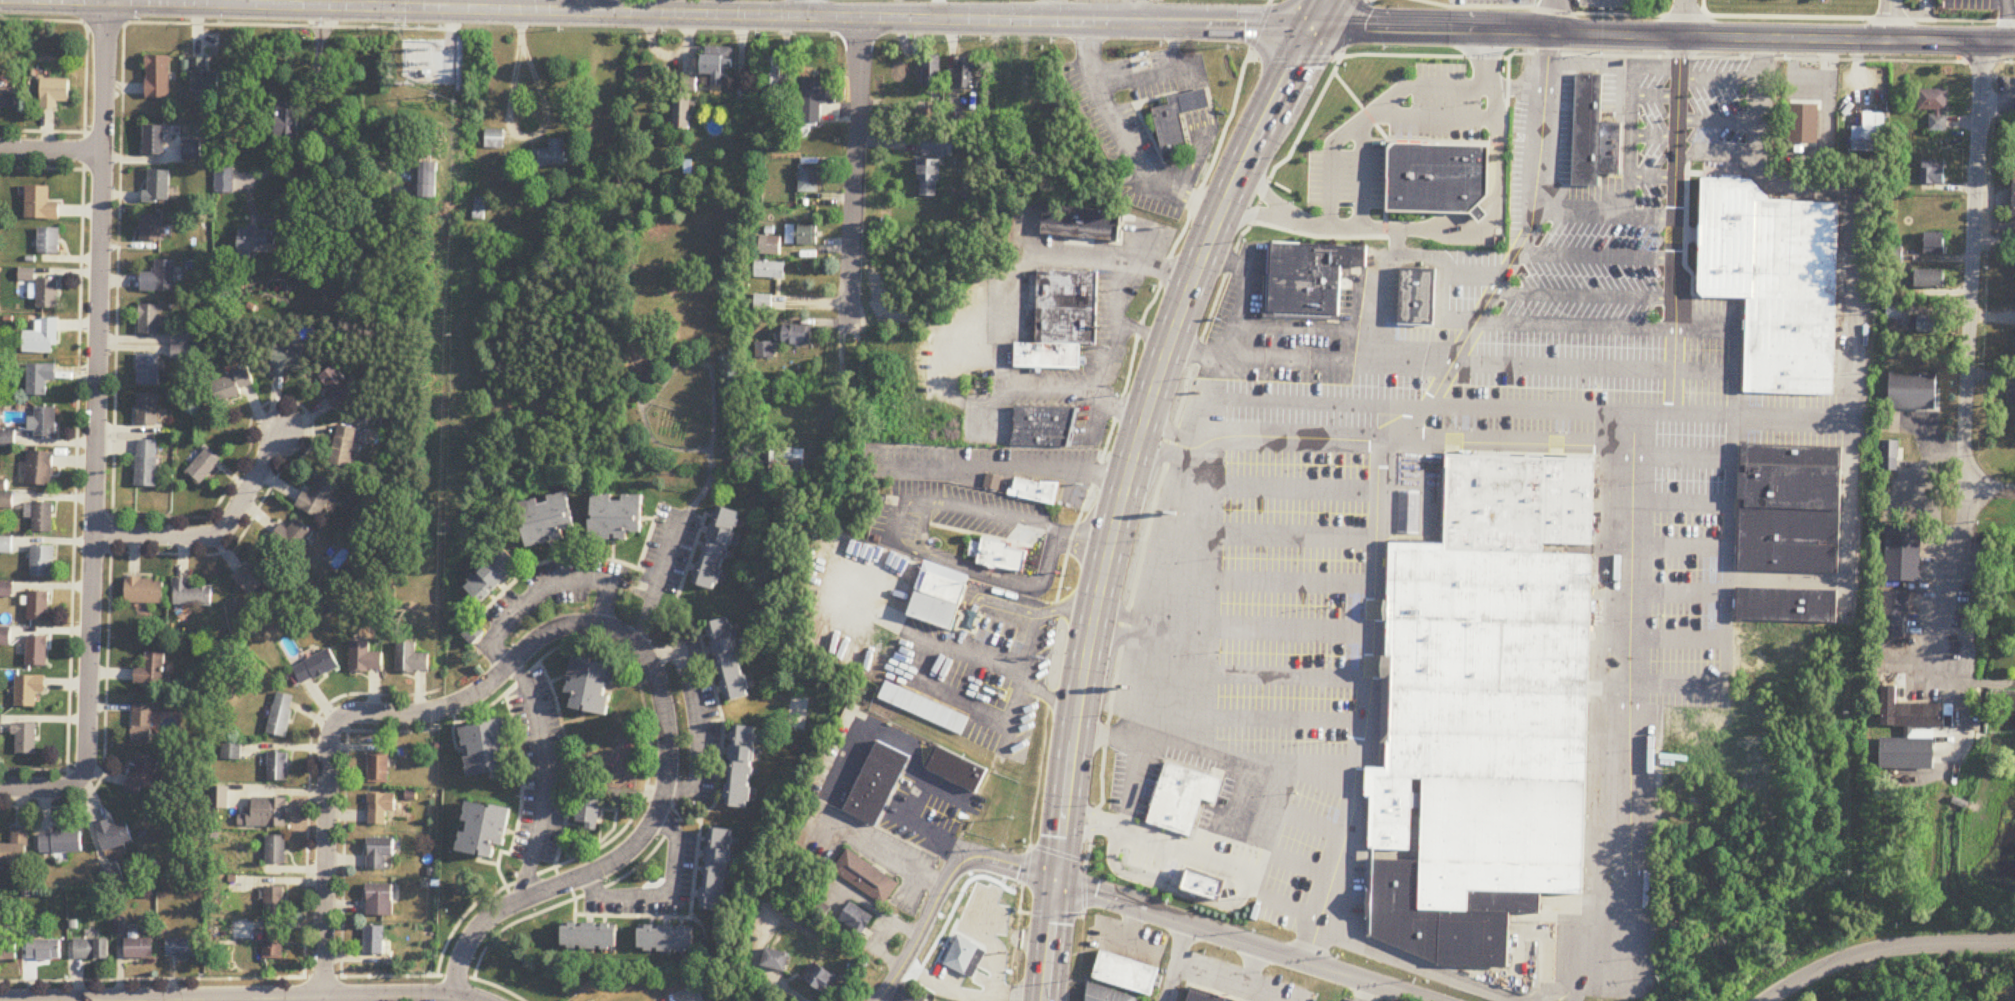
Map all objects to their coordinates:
road: (393, 4)
road: (805, 8)
road: (1718, 14)
road: (1550, 15)
road: (1682, 17)
road: (1007, 19)
road: (1888, 19)
road: (2006, 20)
traffic signals: (1310, 27)
road: (453, 30)
road: (1628, 54)
road: (1576, 62)
building: (717, 63)
road: (1612, 63)
power substation: (426, 64)
road: (1153, 71)
building: (775, 73)
road: (1486, 73)
building: (932, 75)
building: (965, 75)
road: (315, 76)
road: (1718, 76)
building: (158, 77)
building: (204, 77)
road: (1623, 88)
building: (55, 92)
road: (1654, 94)
road: (1390, 95)
building: (8, 98)
building: (818, 98)
building: (1191, 99)
building: (1932, 100)
road: (1360, 106)
building: (682, 108)
building: (927, 116)
road: (1434, 116)
road: (1717, 120)
building: (1938, 123)
building: (288, 124)
road: (542, 125)
building: (1586, 126)
building: (1168, 127)
road: (50, 132)
road: (1653, 134)
building: (1868, 134)
road: (1123, 137)
building: (494, 140)
building: (154, 141)
building: (1608, 145)
building: (937, 147)
road: (50, 150)
building: (192, 150)
road: (1385, 152)
building: (551, 155)
road: (1716, 156)
road: (1728, 165)
road: (50, 170)
road: (1694, 172)
road: (1359, 173)
road: (1717, 173)
building: (1932, 173)
building: (1731, 175)
road: (1731, 175)
building: (1436, 176)
road: (1652, 176)
building: (928, 178)
building: (225, 179)
building: (808, 179)
building: (426, 180)
road: (1572, 181)
road: (850, 183)
road: (1628, 183)
building: (158, 187)
road: (1487, 198)
road: (1272, 200)
building: (40, 204)
road: (1490, 208)
building: (480, 209)
road: (1476, 210)
building: (1478, 212)
road: (1266, 214)
road: (1650, 215)
road: (1482, 216)
building: (1079, 220)
road: (1492, 220)
road: (1673, 223)
road: (1461, 224)
road: (1335, 225)
road: (1376, 226)
road: (1030, 227)
building: (151, 228)
road: (1471, 228)
road: (1684, 231)
road: (1690, 233)
building: (1697, 233)
road: (1697, 234)
building: (801, 235)
building: (49, 241)
building: (254, 241)
road: (1394, 241)
building: (1764, 242)
road: (1994, 242)
building: (1934, 243)
building: (774, 246)
building: (1317, 252)
road: (1408, 255)
road: (1594, 255)
building: (1303, 268)
building: (770, 271)
road: (1472, 273)
road: (1695, 276)
building: (159, 277)
road: (1007, 278)
building: (1066, 278)
building: (1931, 279)
road: (1970, 280)
building: (1303, 284)
road: (1854, 284)
road: (1241, 289)
building: (47, 293)
building: (1415, 294)
road: (116, 295)
road: (1583, 295)
building: (1066, 296)
road: (1150, 301)
building: (1302, 302)
building: (763, 303)
building: (1066, 314)
building: (149, 320)
road: (1414, 323)
road: (1575, 323)
road: (1406, 324)
building: (1929, 325)
road: (1306, 327)
road: (1140, 329)
building: (1064, 332)
building: (797, 336)
building: (42, 339)
road: (1394, 342)
building: (1791, 344)
building: (1744, 345)
road: (1744, 345)
building: (764, 351)
building: (184, 352)
building: (1046, 353)
road: (1109, 354)
road: (1308, 356)
building: (287, 361)
road: (78, 363)
road: (1592, 366)
building: (148, 370)
road: (670, 378)
building: (39, 379)
building: (232, 385)
building: (336, 386)
road: (96, 392)
building: (1914, 392)
building: (2012, 394)
road: (1743, 404)
road: (1122, 407)
building: (147, 410)
road: (1637, 410)
road: (1176, 412)
building: (1042, 416)
road: (310, 420)
building: (44, 424)
road: (1140, 424)
road: (1166, 431)
road: (1297, 431)
building: (1039, 435)
building: (345, 448)
road: (1161, 449)
road: (1201, 452)
road: (1689, 456)
building: (1890, 456)
building: (787, 459)
building: (146, 464)
building: (202, 466)
road: (995, 466)
road: (1216, 468)
building: (39, 469)
road: (1376, 471)
building: (992, 480)
road: (1296, 486)
road: (706, 488)
building: (1034, 489)
road: (2011, 493)
building: (319, 497)
road: (1687, 502)
building: (1789, 507)
road: (1728, 516)
building: (617, 517)
building: (43, 518)
building: (549, 520)
road: (212, 531)
road: (1294, 532)
road: (1081, 534)
building: (293, 537)
road: (649, 537)
road: (895, 542)
road: (931, 545)
road: (1686, 546)
building: (717, 549)
building: (996, 552)
building: (1903, 553)
road: (562, 559)
building: (42, 562)
building: (493, 576)
building: (254, 577)
road: (1786, 579)
road: (658, 580)
road: (1293, 580)
road: (543, 589)
building: (144, 591)
road: (1685, 591)
building: (191, 594)
building: (937, 594)
building: (1786, 603)
road: (1008, 605)
building: (38, 606)
road: (1949, 612)
building: (1895, 613)
road: (1119, 614)
road: (1292, 628)
building: (471, 631)
building: (992, 631)
road: (1115, 632)
road: (1176, 635)
building: (5, 636)
road: (1684, 637)
road: (1028, 642)
road: (949, 647)
building: (37, 651)
building: (365, 658)
building: (411, 659)
building: (728, 659)
building: (316, 667)
building: (152, 671)
road: (1291, 674)
parking lot: (704, 684)
road: (1982, 684)
building: (592, 686)
building: (29, 691)
road: (1047, 695)
road: (960, 700)
building: (923, 706)
building: (1484, 711)
road: (428, 712)
building: (1913, 713)
building: (281, 716)
road: (454, 716)
road: (699, 717)
road: (1289, 718)
building: (143, 724)
building: (2, 725)
road: (386, 732)
road: (1109, 736)
building: (26, 740)
building: (486, 749)
building: (1907, 754)
road: (917, 757)
road: (1302, 762)
road: (1250, 765)
building: (277, 767)
building: (956, 767)
building: (742, 768)
building: (378, 769)
parking lot: (538, 770)
road: (42, 771)
road: (647, 773)
building: (144, 777)
road: (543, 779)
road: (309, 780)
building: (876, 781)
road: (39, 788)
building: (1180, 796)
road: (662, 797)
building: (218, 799)
building: (590, 807)
road: (713, 807)
building: (383, 808)
road: (1093, 812)
building: (268, 813)
road: (1309, 820)
road: (1272, 825)
road: (1090, 828)
building: (484, 831)
building: (115, 836)
building: (61, 843)
road: (1637, 845)
road: (344, 846)
building: (15, 850)
building: (275, 851)
building: (379, 853)
road: (883, 854)
road: (325, 858)
road: (1297, 862)
building: (716, 870)
building: (864, 875)
traffic signals: (1055, 879)
building: (1202, 883)
road: (1162, 886)
road: (943, 888)
road: (570, 891)
road: (1262, 892)
road: (666, 899)
building: (380, 901)
building: (275, 902)
road: (1018, 908)
building: (977, 918)
building: (858, 919)
building: (591, 937)
building: (667, 939)
road: (1049, 940)
building: (373, 941)
road: (1241, 941)
road: (1179, 945)
building: (273, 946)
building: (184, 949)
building: (8, 950)
building: (92, 950)
building: (140, 950)
building: (44, 951)
road: (1888, 951)
building: (963, 955)
road: (1012, 955)
building: (777, 961)
building: (1127, 973)
road: (263, 978)
building: (821, 979)
road: (1213, 979)
road: (1575, 984)
road: (971, 989)
building: (1106, 994)
road: (1264, 994)
building: (1204, 997)
road: (281, 998)

